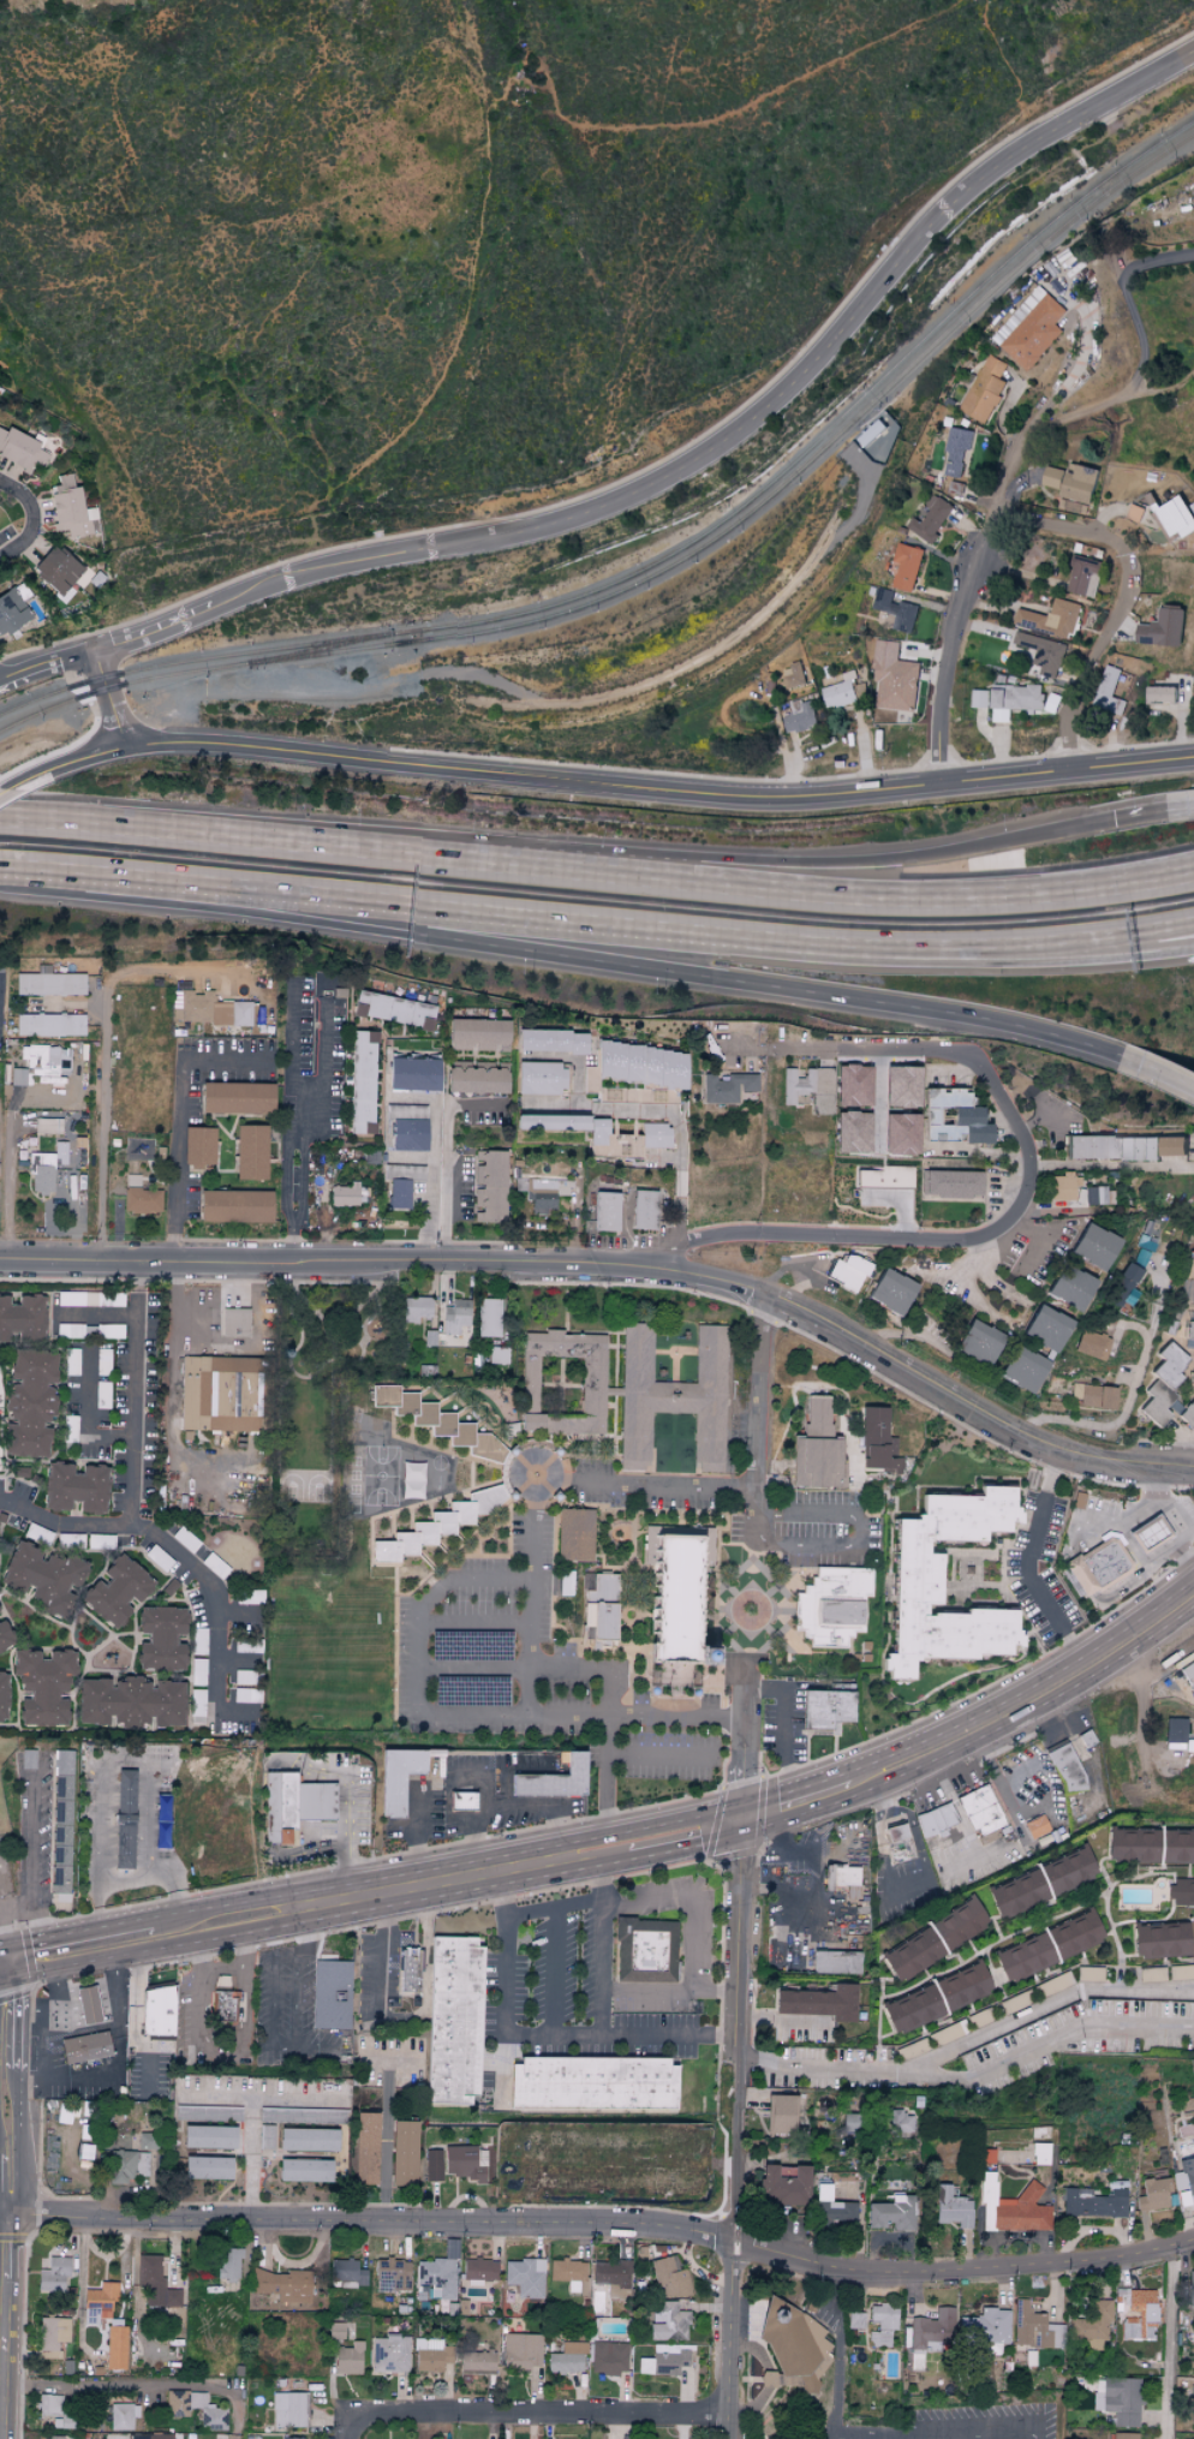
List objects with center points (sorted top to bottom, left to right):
road: (1129, 297)
building: (1032, 327)
road: (1178, 376)
building: (986, 388)
building: (959, 449)
building: (22, 451)
road: (667, 467)
building: (1074, 479)
building: (957, 485)
building: (71, 509)
building: (1138, 511)
building: (1178, 514)
building: (932, 517)
road: (30, 521)
road: (1063, 526)
road: (995, 531)
railway: (663, 556)
building: (908, 565)
railway: (663, 568)
building: (56, 570)
building: (1086, 573)
building: (897, 608)
building: (11, 612)
building: (1052, 616)
building: (1165, 626)
railway: (322, 646)
building: (1044, 651)
road: (1089, 657)
building: (795, 673)
building: (897, 681)
building: (1109, 686)
building: (842, 690)
building: (1163, 692)
building: (981, 696)
road: (109, 698)
building: (1016, 698)
building: (1053, 700)
building: (802, 716)
road: (317, 749)
road: (913, 780)
road: (4, 792)
road: (1156, 811)
road: (250, 839)
road: (810, 860)
road: (129, 876)
road: (847, 888)
road: (609, 923)
road: (1079, 936)
road: (1079, 949)
road: (691, 970)
building: (49, 983)
building: (208, 1009)
building: (393, 1009)
building: (48, 1025)
building: (478, 1034)
building: (551, 1042)
road: (291, 1044)
road: (103, 1045)
road: (780, 1046)
road: (899, 1049)
road: (574, 1060)
building: (40, 1061)
building: (617, 1061)
building: (663, 1068)
road: (1159, 1068)
building: (412, 1074)
building: (18, 1077)
building: (476, 1078)
building: (539, 1078)
building: (590, 1079)
building: (362, 1081)
building: (853, 1086)
building: (901, 1086)
building: (726, 1087)
building: (808, 1089)
building: (237, 1098)
road: (1044, 1110)
road: (667, 1111)
building: (953, 1117)
building: (550, 1122)
building: (47, 1126)
road: (304, 1127)
building: (852, 1133)
building: (407, 1135)
building: (655, 1135)
building: (900, 1135)
building: (610, 1141)
building: (198, 1146)
building: (1124, 1146)
building: (250, 1152)
road: (446, 1155)
road: (7, 1164)
road: (1109, 1168)
building: (44, 1170)
building: (885, 1176)
building: (132, 1180)
building: (953, 1183)
building: (489, 1186)
building: (1061, 1187)
building: (538, 1193)
building: (348, 1194)
building: (398, 1194)
building: (1098, 1195)
building: (142, 1200)
building: (234, 1206)
building: (644, 1210)
building: (605, 1211)
road: (174, 1228)
road: (1046, 1239)
road: (923, 1240)
building: (1144, 1245)
building: (1094, 1247)
building: (1192, 1252)
road: (617, 1268)
building: (848, 1272)
road: (971, 1274)
building: (1070, 1288)
building: (891, 1292)
building: (90, 1299)
building: (416, 1308)
building: (455, 1317)
building: (488, 1318)
building: (22, 1319)
building: (234, 1323)
building: (1046, 1328)
building: (70, 1330)
building: (1189, 1330)
road: (911, 1331)
building: (978, 1342)
building: (1096, 1346)
building: (497, 1355)
building: (1022, 1370)
building: (593, 1376)
building: (1192, 1377)
building: (1163, 1384)
road: (133, 1393)
building: (217, 1394)
building: (1093, 1396)
building: (671, 1397)
building: (29, 1403)
building: (1187, 1414)
road: (83, 1417)
road: (757, 1417)
building: (436, 1421)
road: (1112, 1426)
building: (878, 1443)
building: (817, 1450)
building: (353, 1457)
park: (332, 1475)
building: (412, 1480)
road: (645, 1481)
building: (74, 1489)
road: (1134, 1515)
building: (437, 1526)
road: (1174, 1529)
road: (858, 1531)
building: (1147, 1534)
building: (574, 1535)
road: (187, 1562)
building: (1096, 1567)
building: (42, 1576)
building: (917, 1580)
building: (566, 1584)
road: (1033, 1586)
building: (117, 1591)
road: (532, 1596)
road: (751, 1596)
building: (830, 1606)
building: (601, 1608)
road: (473, 1624)
building: (4, 1635)
building: (160, 1639)
road: (472, 1669)
building: (1188, 1675)
building: (244, 1676)
building: (42, 1684)
road: (414, 1693)
building: (4, 1695)
building: (245, 1695)
road: (1027, 1700)
building: (130, 1701)
road: (609, 1709)
building: (825, 1710)
road: (677, 1718)
road: (786, 1725)
building: (1174, 1731)
road: (745, 1735)
road: (662, 1757)
building: (28, 1758)
road: (126, 1761)
building: (1065, 1767)
road: (448, 1772)
road: (1020, 1772)
building: (398, 1777)
building: (554, 1779)
road: (871, 1796)
road: (1003, 1799)
building: (462, 1800)
road: (795, 1800)
building: (293, 1803)
road: (512, 1803)
road: (347, 1806)
building: (981, 1809)
building: (124, 1818)
traffic signals: (742, 1818)
road: (960, 1818)
building: (936, 1819)
building: (61, 1821)
road: (420, 1824)
building: (1037, 1826)
building: (895, 1832)
building: (1132, 1844)
building: (1176, 1845)
road: (32, 1848)
road: (688, 1849)
road: (315, 1851)
road: (782, 1853)
road: (447, 1859)
road: (959, 1866)
building: (1067, 1871)
road: (123, 1876)
building: (841, 1876)
road: (919, 1877)
building: (1181, 1891)
building: (1015, 1892)
road: (553, 1906)
road: (317, 1921)
road: (687, 1921)
building: (959, 1922)
road: (90, 1928)
building: (1074, 1933)
building: (1192, 1934)
road: (736, 1937)
building: (1160, 1939)
road: (18, 1942)
road: (4, 1944)
traffic signals: (7, 1944)
road: (314, 1950)
building: (645, 1950)
building: (912, 1954)
building: (1025, 1956)
road: (7, 1962)
road: (382, 1962)
building: (836, 1962)
building: (408, 1969)
road: (553, 1969)
building: (1181, 1970)
building: (1089, 1973)
building: (1151, 1973)
road: (4, 1980)
traffic signals: (8, 1980)
building: (1053, 1984)
road: (86, 1985)
building: (963, 1985)
road: (644, 1987)
building: (330, 1993)
road: (501, 1996)
building: (223, 1999)
building: (1016, 2000)
building: (818, 2002)
road: (602, 2003)
building: (88, 2004)
building: (912, 2008)
road: (1045, 2008)
building: (157, 2010)
road: (25, 2012)
building: (980, 2017)
building: (453, 2020)
road: (780, 2020)
road: (43, 2022)
road: (135, 2029)
building: (944, 2034)
road: (668, 2035)
road: (1049, 2041)
building: (85, 2046)
road: (286, 2049)
road: (316, 2049)
building: (912, 2049)
road: (226, 2051)
road: (390, 2059)
road: (819, 2067)
road: (115, 2074)
building: (593, 2082)
road: (215, 2095)
road: (8, 2098)
road: (4, 2112)
road: (253, 2112)
building: (781, 2112)
building: (271, 2115)
building: (849, 2122)
building: (900, 2122)
building: (208, 2136)
building: (308, 2139)
building: (148, 2140)
road: (386, 2141)
building: (365, 2147)
road: (730, 2148)
building: (404, 2152)
building: (1040, 2153)
building: (464, 2163)
building: (126, 2165)
building: (432, 2165)
building: (207, 2167)
building: (305, 2170)
building: (1184, 2176)
building: (783, 2184)
building: (1153, 2194)
building: (1093, 2201)
building: (951, 2207)
building: (1014, 2207)
building: (832, 2208)
building: (891, 2213)
road: (364, 2222)
building: (229, 2264)
road: (961, 2267)
building: (479, 2270)
building: (568, 2272)
building: (347, 2273)
building: (53, 2274)
building: (393, 2274)
building: (525, 2277)
building: (610, 2277)
building: (668, 2277)
building: (155, 2283)
building: (281, 2284)
building: (1190, 2284)
building: (98, 2302)
building: (1139, 2313)
building: (855, 2320)
building: (668, 2321)
building: (883, 2322)
building: (1092, 2325)
building: (985, 2326)
building: (1029, 2326)
road: (6, 2327)
building: (335, 2330)
building: (930, 2334)
building: (52, 2336)
road: (1166, 2338)
road: (727, 2340)
building: (115, 2344)
building: (792, 2346)
building: (521, 2351)
road: (840, 2351)
building: (390, 2352)
building: (431, 2354)
building: (608, 2357)
building: (348, 2359)
building: (567, 2359)
building: (477, 2360)
building: (663, 2360)
road: (142, 2386)
building: (1118, 2401)
building: (48, 2404)
building: (1192, 2404)
building: (287, 2409)
building: (213, 2411)
road: (519, 2414)
building: (66, 2415)
building: (123, 2416)
road: (938, 2428)
road: (989, 2433)
building: (150, 2435)
building: (1124, 2435)
building: (52, 2438)
building: (292, 2438)

